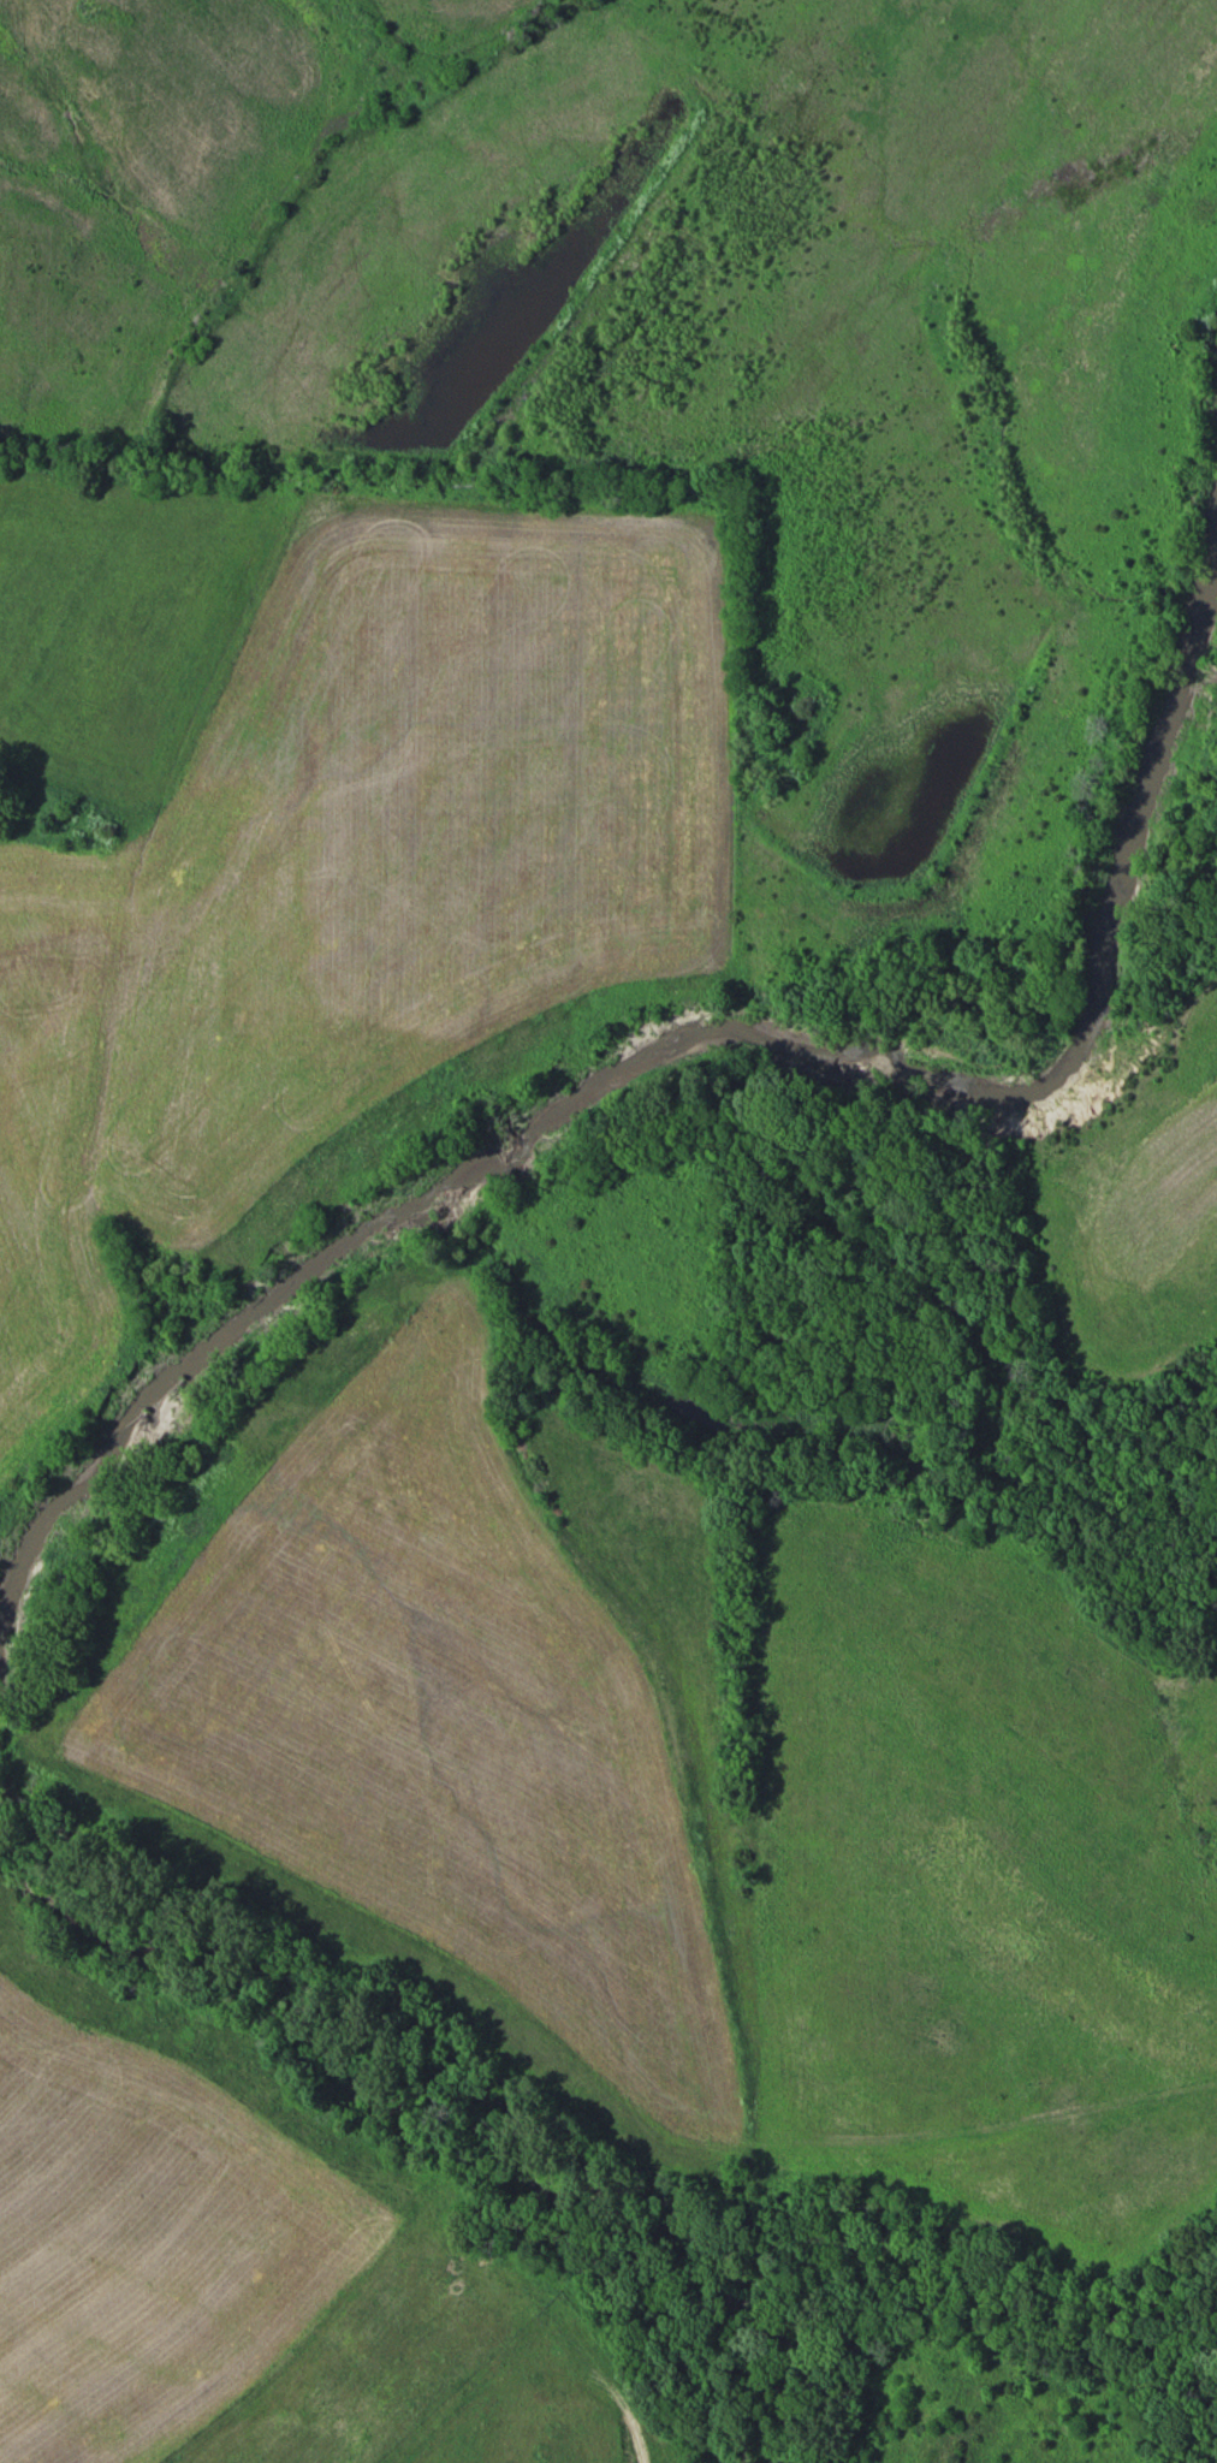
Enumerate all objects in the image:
river: (671, 1046)

